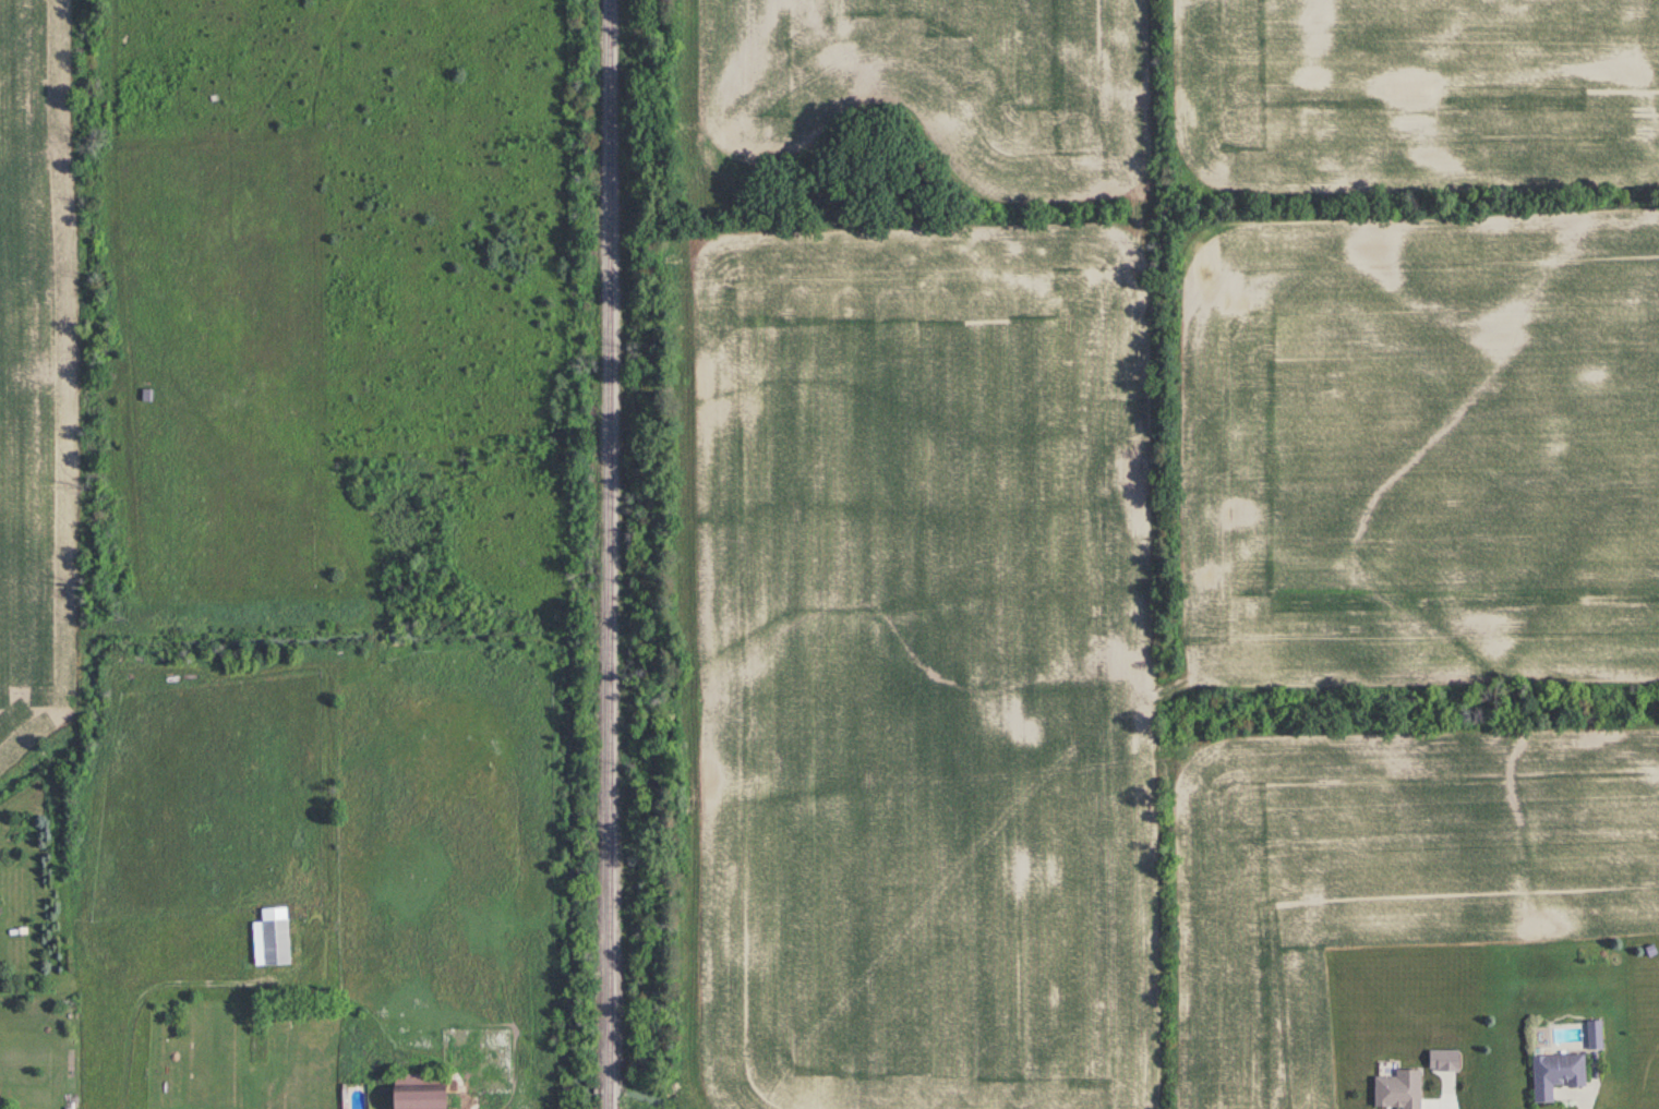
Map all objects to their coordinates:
railway: (610, 554)
building: (271, 941)
road: (139, 1001)
building: (1592, 1034)
building: (1553, 1073)
building: (1395, 1089)
building: (411, 1092)
road: (1580, 1106)
road: (1426, 1108)

